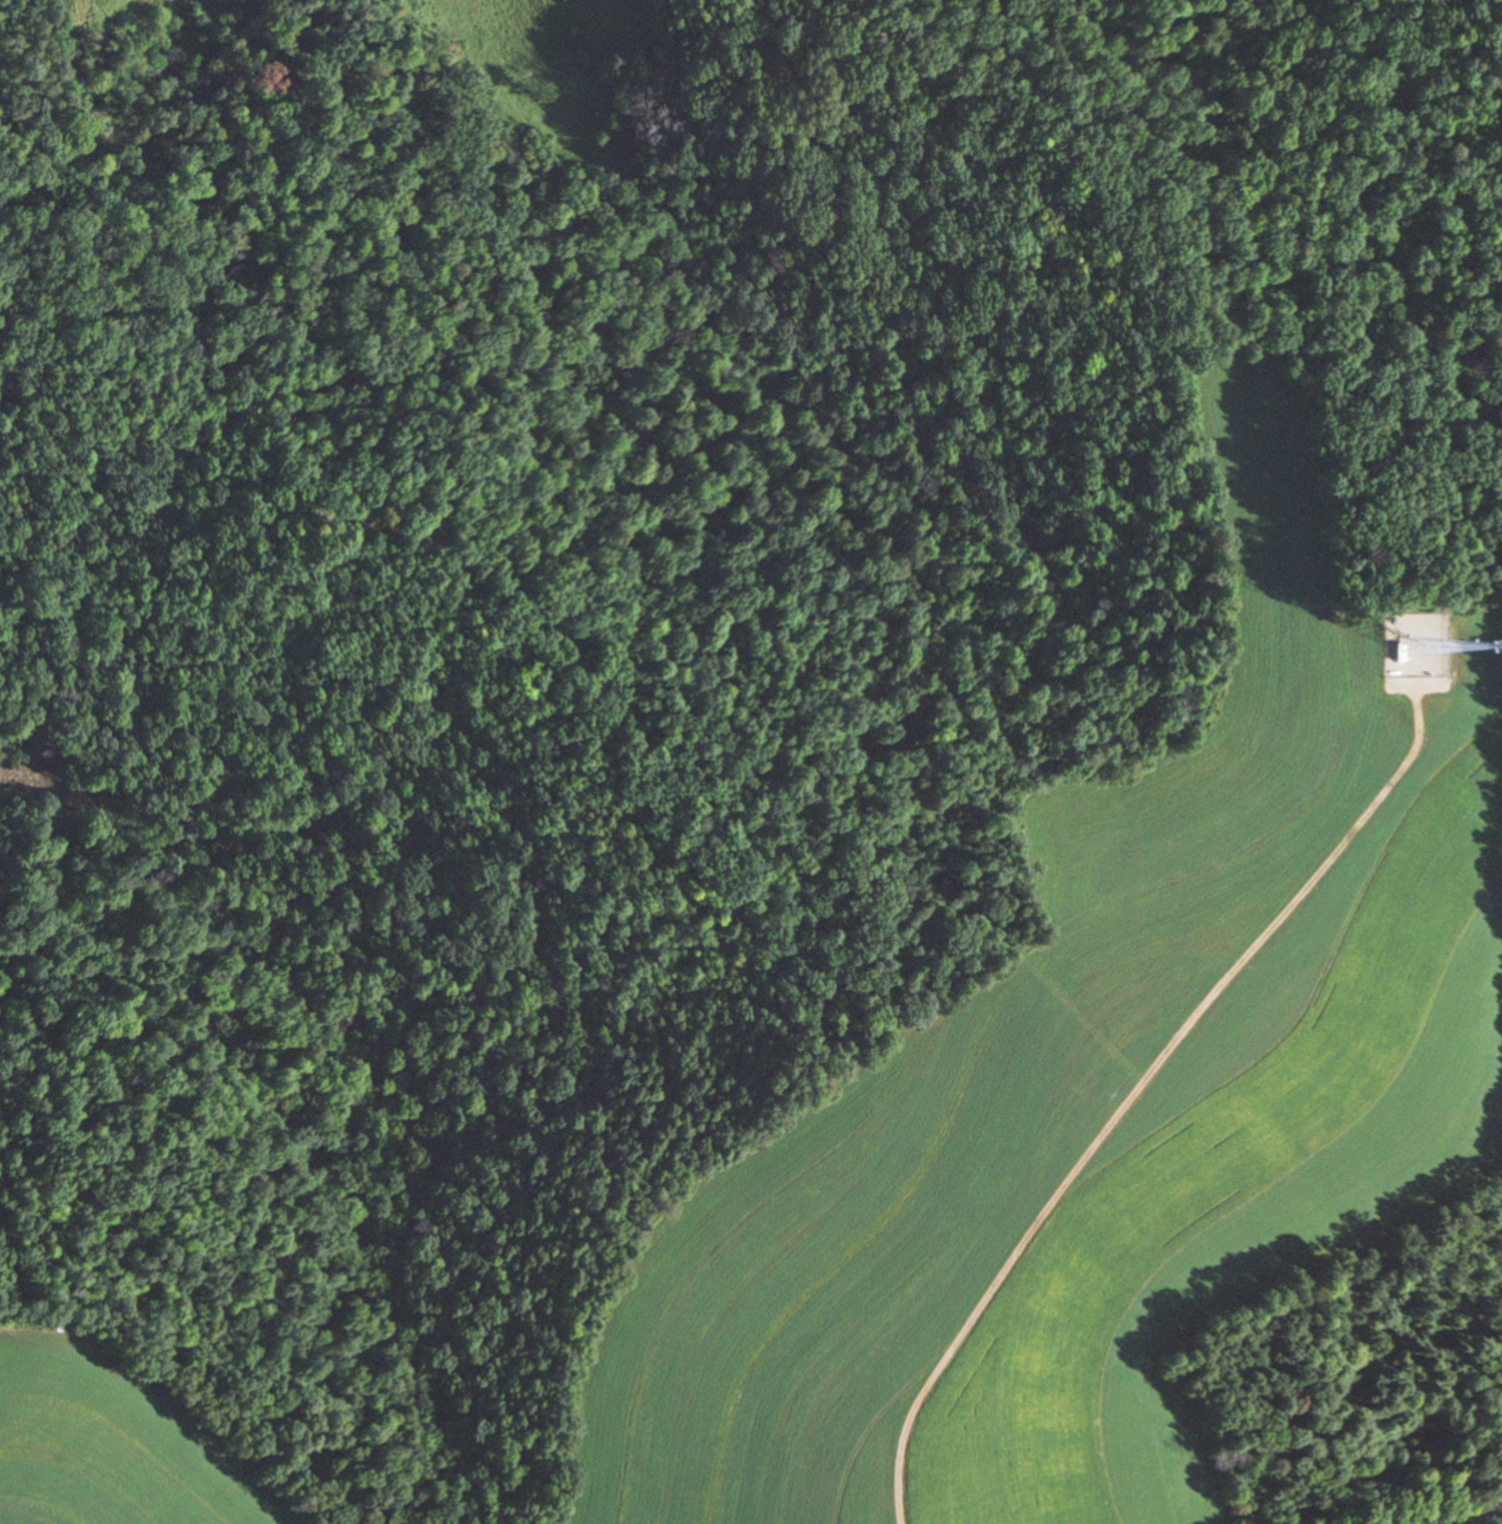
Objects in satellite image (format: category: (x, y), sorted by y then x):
road: (1482, 1519)

